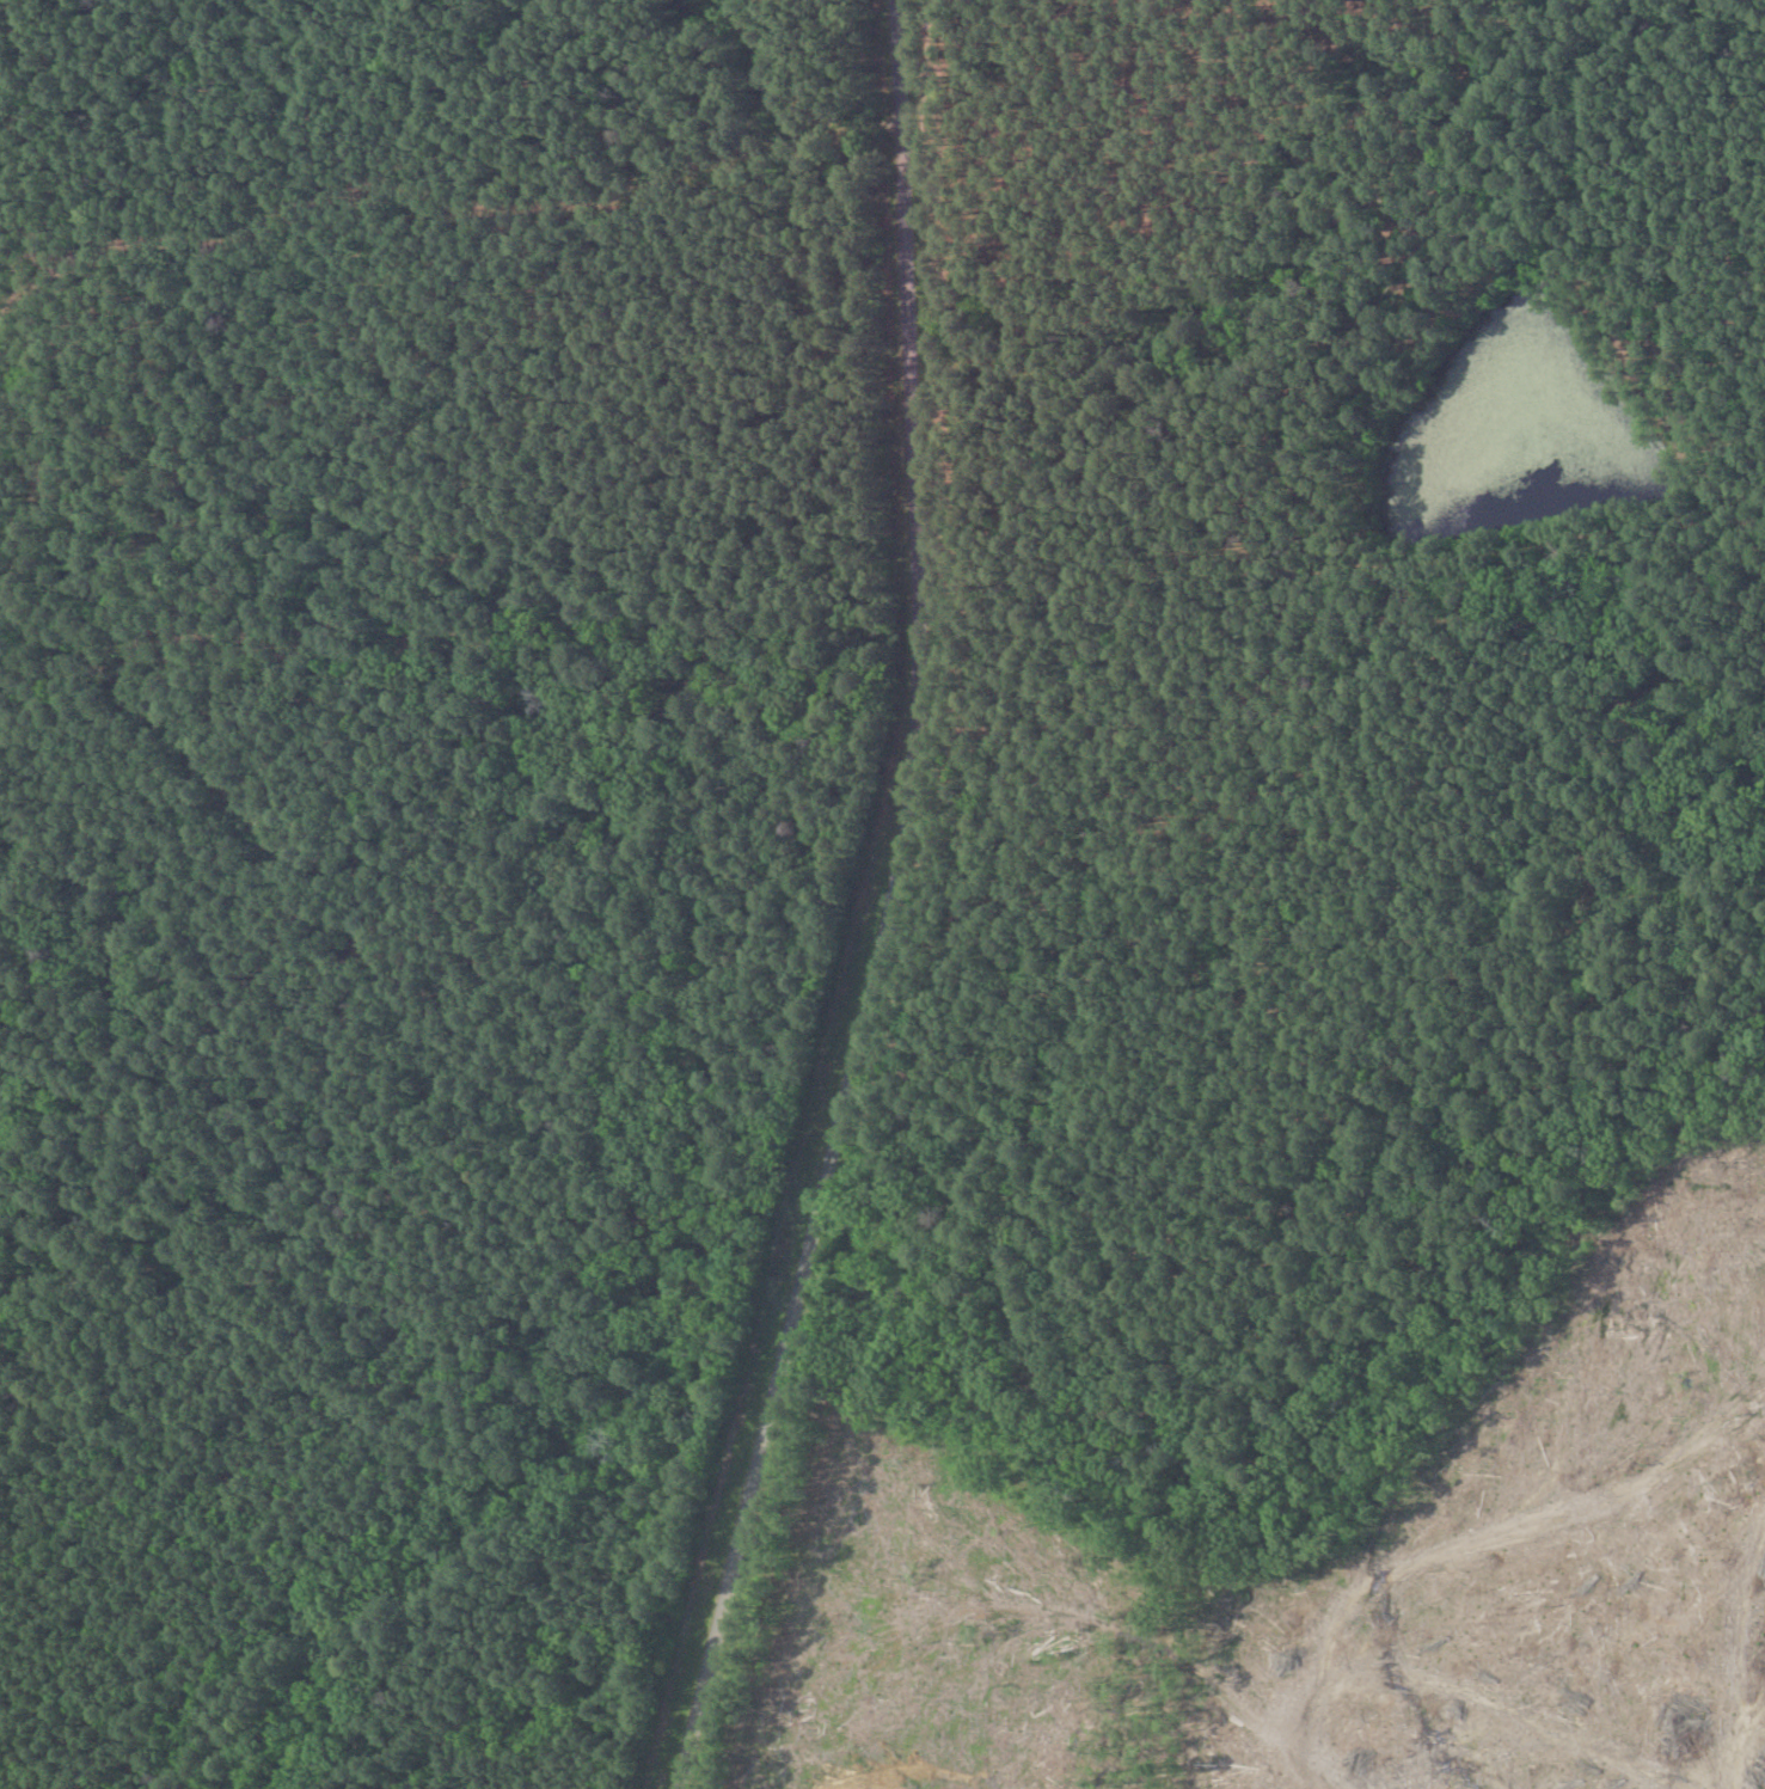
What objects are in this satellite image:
road: (895, 905)

